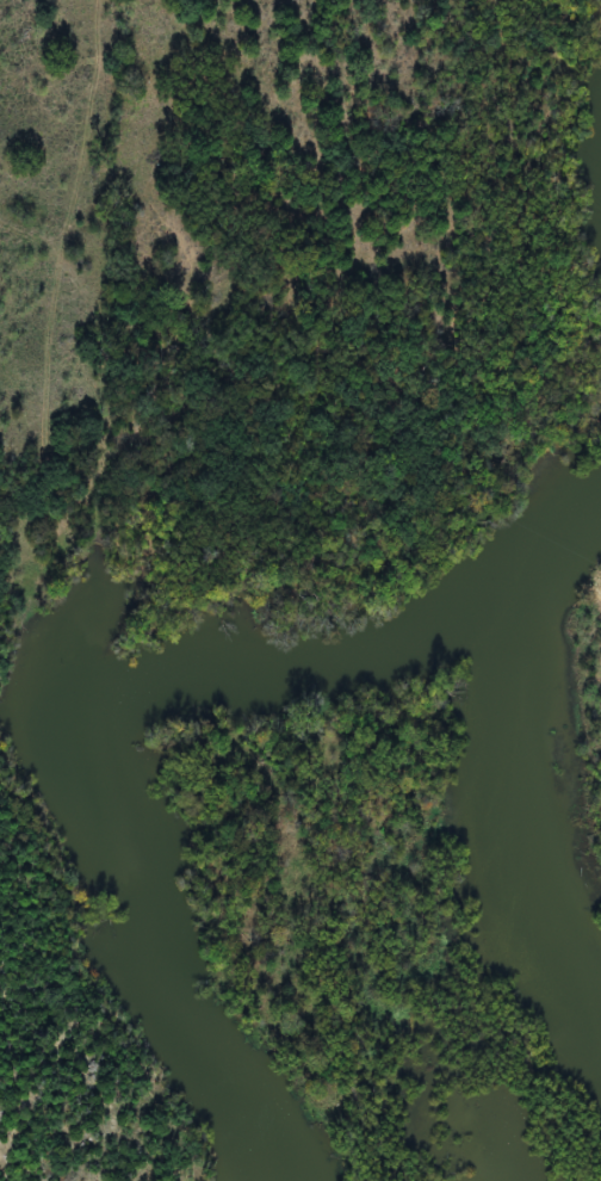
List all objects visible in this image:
river: (98, 693)

